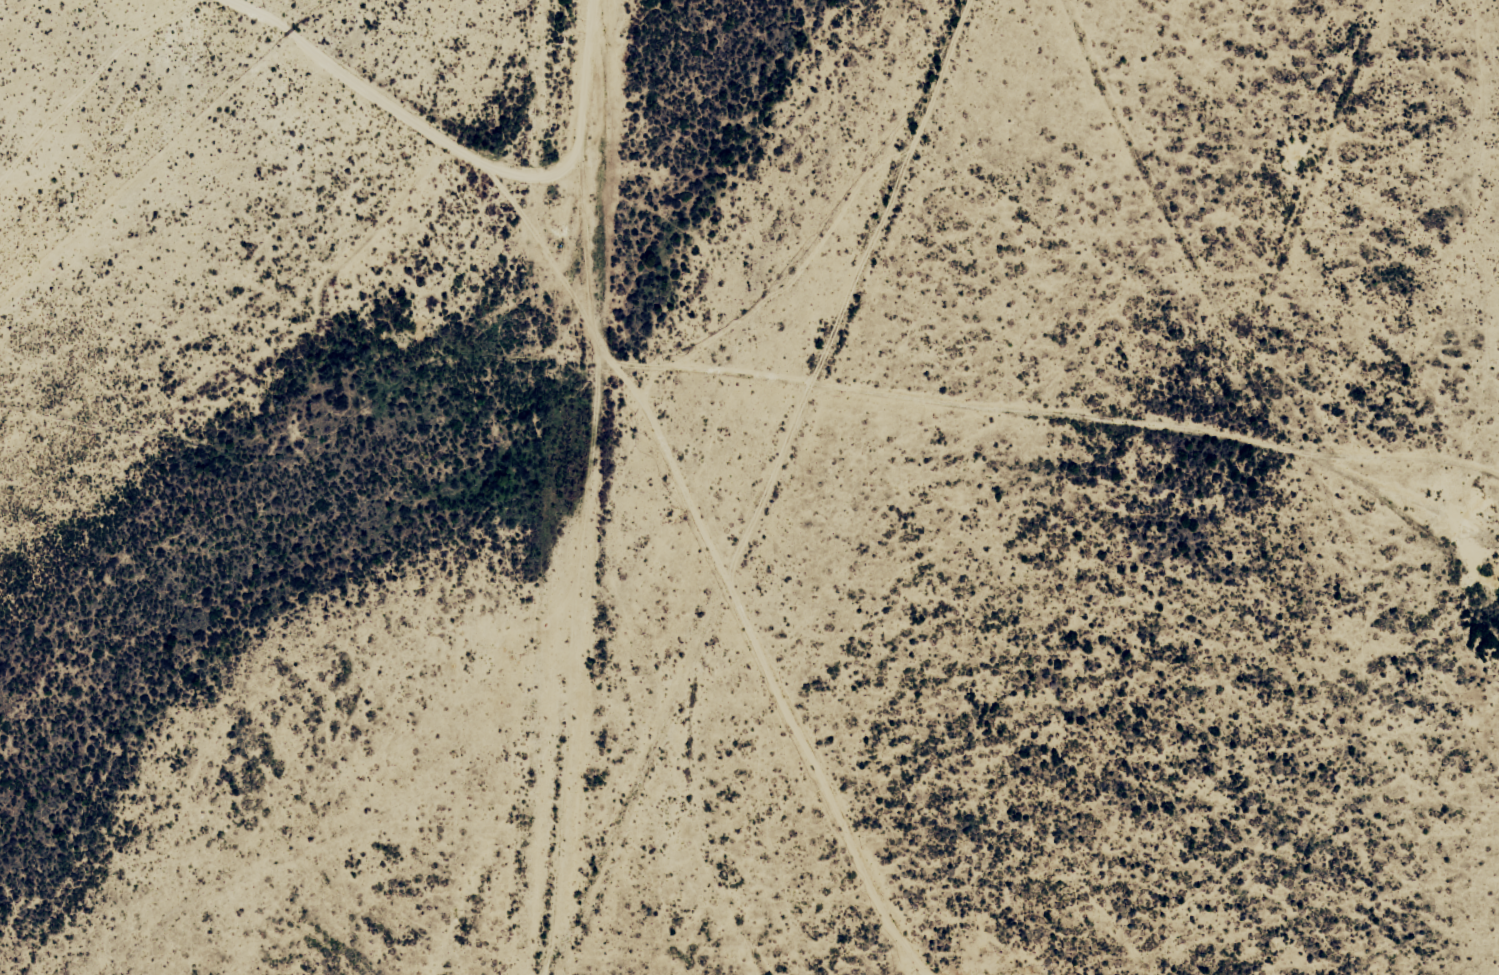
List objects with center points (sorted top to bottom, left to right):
airport runway: (571, 487)
road: (769, 492)

